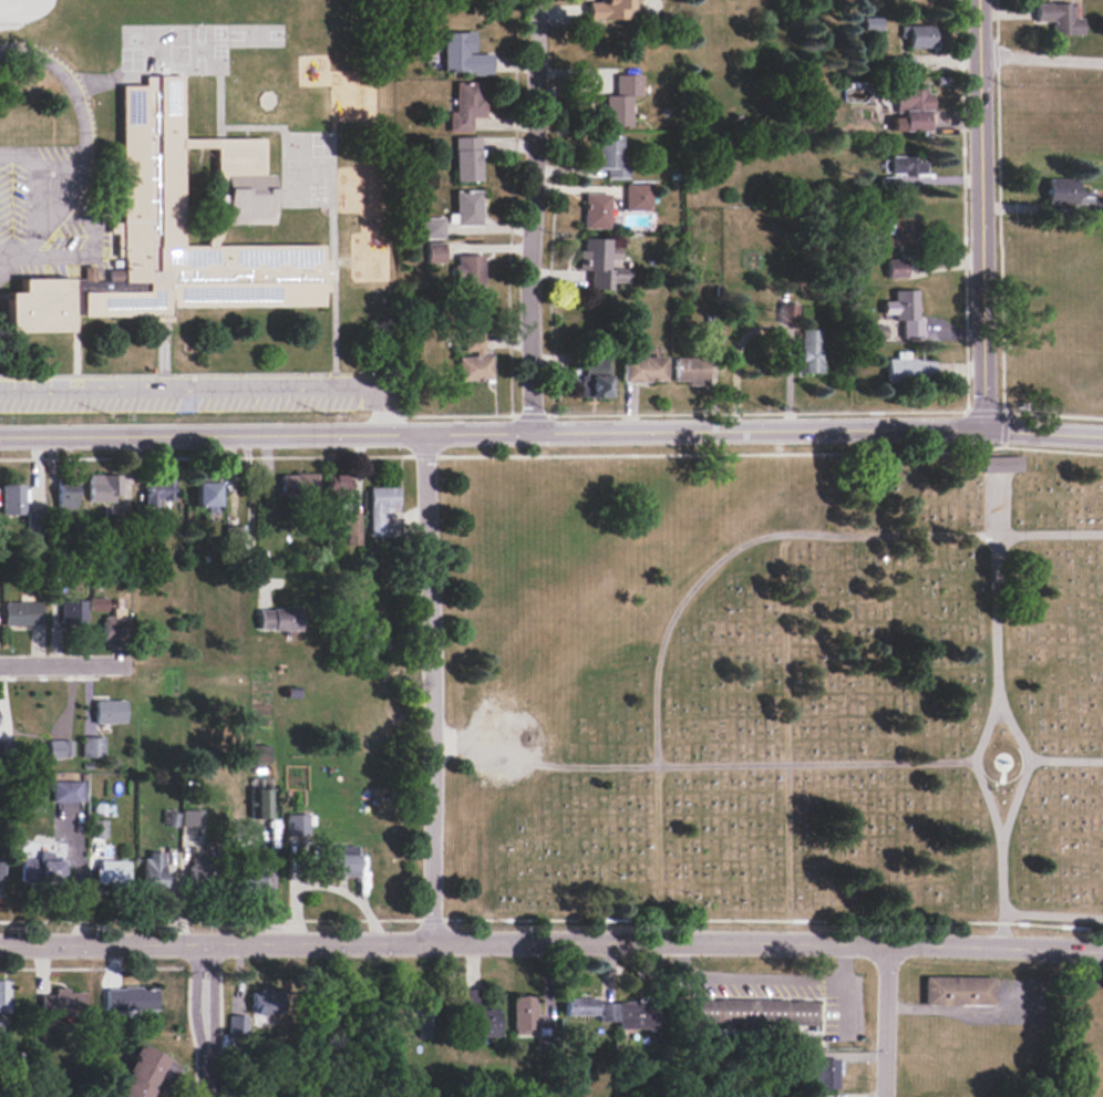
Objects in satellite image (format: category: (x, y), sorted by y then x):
building: (609, 9)
building: (1058, 18)
building: (920, 35)
building: (462, 54)
road: (1039, 58)
building: (619, 100)
building: (465, 105)
building: (909, 106)
road: (79, 110)
building: (608, 156)
building: (466, 158)
building: (907, 164)
building: (896, 180)
building: (1063, 190)
building: (637, 196)
road: (48, 203)
building: (466, 207)
building: (595, 210)
road: (978, 211)
road: (528, 216)
building: (432, 227)
building: (898, 231)
building: (176, 234)
building: (435, 252)
building: (600, 262)
building: (896, 268)
building: (468, 270)
building: (787, 312)
building: (905, 312)
building: (876, 331)
building: (713, 339)
building: (810, 351)
building: (473, 359)
building: (909, 368)
building: (641, 369)
building: (690, 370)
building: (595, 375)
road: (208, 389)
road: (551, 431)
building: (1001, 466)
building: (298, 484)
building: (339, 486)
building: (103, 487)
building: (156, 489)
building: (206, 496)
building: (65, 497)
building: (11, 498)
building: (380, 507)
road: (248, 508)
building: (349, 527)
road: (731, 550)
building: (96, 603)
building: (72, 611)
building: (21, 612)
building: (278, 618)
building: (111, 625)
road: (58, 663)
road: (429, 685)
park: (774, 690)
building: (107, 711)
road: (1004, 713)
building: (91, 746)
building: (59, 748)
building: (258, 753)
road: (1066, 759)
road: (698, 766)
road: (975, 768)
building: (68, 790)
building: (261, 799)
building: (190, 817)
building: (173, 819)
building: (97, 828)
road: (786, 851)
building: (340, 860)
building: (152, 869)
building: (0, 870)
building: (39, 870)
building: (111, 872)
building: (200, 875)
building: (249, 878)
road: (1053, 914)
road: (551, 939)
road: (845, 956)
road: (748, 976)
building: (959, 990)
building: (3, 995)
building: (128, 998)
road: (844, 1001)
building: (262, 1002)
building: (61, 1003)
road: (192, 1003)
road: (210, 1003)
building: (589, 1007)
building: (751, 1011)
building: (635, 1014)
building: (477, 1015)
building: (524, 1015)
road: (885, 1018)
building: (423, 1022)
building: (235, 1023)
building: (818, 1069)
building: (142, 1073)
road: (202, 1080)

